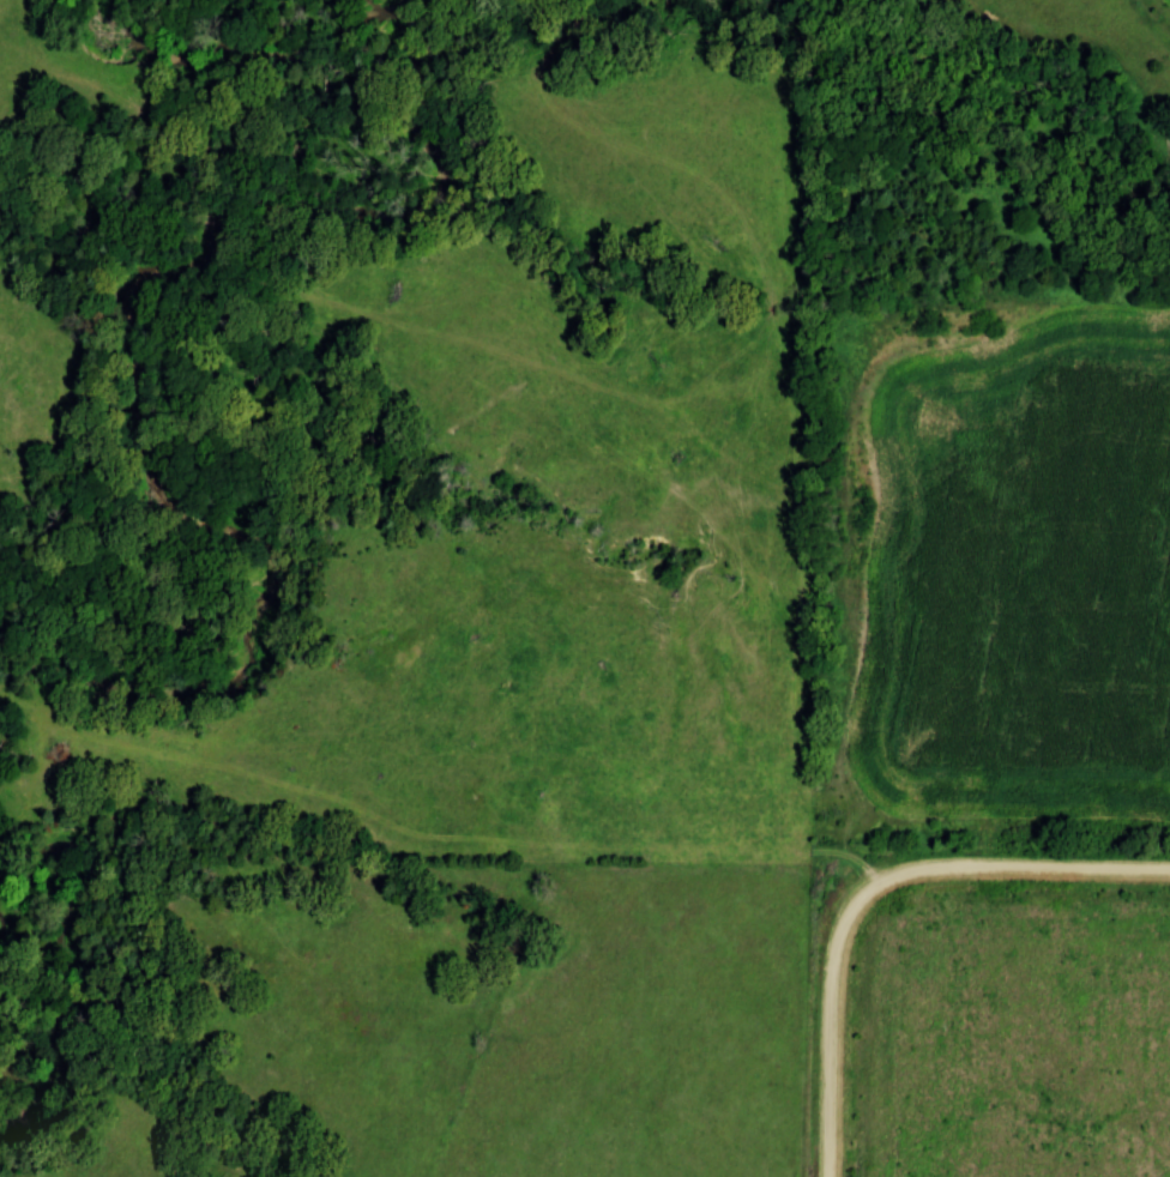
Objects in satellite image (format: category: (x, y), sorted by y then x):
road: (874, 889)

